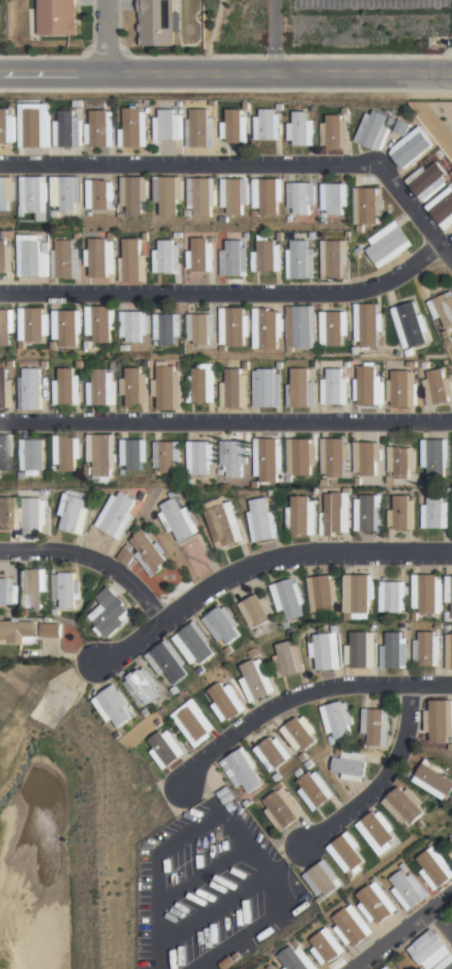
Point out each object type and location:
building: (56, 17)
building: (158, 22)
road: (215, 28)
road: (103, 36)
road: (275, 37)
road: (225, 73)
building: (147, 101)
building: (78, 102)
building: (213, 102)
building: (12, 104)
building: (111, 104)
building: (247, 105)
building: (280, 106)
building: (313, 109)
building: (345, 110)
building: (391, 119)
building: (33, 124)
building: (168, 124)
building: (269, 124)
building: (7, 126)
building: (235, 126)
building: (402, 126)
building: (100, 127)
building: (134, 127)
building: (200, 128)
building: (67, 129)
building: (302, 129)
building: (374, 130)
building: (335, 131)
building: (411, 146)
road: (188, 163)
building: (427, 179)
building: (5, 191)
building: (64, 192)
building: (133, 192)
building: (98, 193)
building: (167, 193)
building: (31, 194)
building: (234, 194)
building: (267, 194)
building: (201, 195)
building: (300, 196)
building: (334, 197)
building: (367, 205)
road: (414, 208)
building: (442, 208)
building: (254, 212)
building: (53, 213)
building: (187, 213)
building: (121, 215)
building: (323, 216)
building: (223, 218)
building: (289, 218)
building: (360, 228)
building: (180, 234)
building: (314, 234)
building: (146, 235)
building: (247, 235)
building: (281, 235)
building: (212, 238)
building: (450, 238)
building: (389, 244)
building: (46, 246)
building: (359, 249)
building: (5, 253)
building: (267, 254)
building: (202, 255)
building: (32, 257)
building: (100, 257)
building: (167, 257)
building: (234, 258)
building: (66, 259)
building: (301, 259)
building: (336, 259)
building: (133, 261)
road: (227, 293)
building: (442, 310)
building: (99, 322)
building: (32, 324)
building: (366, 324)
building: (133, 325)
building: (409, 325)
building: (7, 326)
building: (66, 326)
building: (234, 326)
building: (301, 326)
building: (166, 327)
building: (200, 327)
building: (266, 327)
building: (332, 327)
building: (443, 335)
building: (448, 342)
building: (155, 343)
building: (20, 345)
building: (52, 345)
building: (188, 346)
building: (92, 347)
building: (124, 348)
building: (222, 348)
building: (408, 352)
building: (11, 364)
building: (45, 364)
building: (113, 364)
building: (145, 364)
building: (280, 364)
building: (315, 364)
building: (348, 364)
building: (413, 364)
building: (78, 365)
building: (247, 365)
building: (425, 365)
building: (181, 366)
building: (202, 383)
building: (368, 386)
building: (67, 387)
building: (134, 387)
building: (167, 387)
building: (267, 387)
building: (335, 387)
building: (437, 387)
building: (101, 388)
building: (401, 388)
building: (235, 389)
building: (300, 389)
building: (32, 390)
building: (5, 391)
road: (226, 420)
building: (451, 448)
building: (6, 450)
building: (66, 452)
building: (133, 453)
building: (31, 456)
building: (167, 456)
building: (199, 456)
building: (233, 456)
building: (434, 456)
building: (100, 457)
building: (301, 457)
building: (333, 457)
building: (365, 457)
building: (267, 459)
building: (400, 461)
building: (52, 468)
building: (86, 470)
building: (121, 472)
building: (219, 472)
building: (22, 475)
building: (388, 475)
building: (288, 478)
building: (189, 481)
building: (356, 481)
building: (323, 482)
building: (423, 483)
building: (254, 484)
building: (449, 491)
building: (271, 493)
building: (46, 494)
building: (173, 494)
building: (144, 498)
building: (7, 512)
building: (74, 512)
building: (367, 513)
building: (402, 513)
building: (118, 514)
building: (434, 514)
building: (33, 515)
building: (334, 515)
building: (300, 517)
building: (178, 520)
building: (262, 521)
building: (222, 522)
building: (149, 553)
building: (127, 554)
road: (94, 560)
road: (260, 562)
building: (31, 588)
building: (65, 590)
building: (5, 593)
building: (321, 594)
building: (427, 594)
building: (357, 595)
building: (449, 596)
building: (392, 597)
building: (289, 598)
building: (256, 610)
building: (55, 612)
building: (20, 613)
building: (109, 614)
building: (346, 616)
building: (447, 616)
building: (313, 617)
building: (413, 617)
building: (381, 618)
building: (47, 619)
building: (222, 625)
building: (286, 625)
building: (373, 626)
building: (403, 626)
building: (437, 626)
building: (333, 629)
building: (447, 629)
building: (50, 630)
building: (16, 632)
building: (258, 633)
building: (291, 633)
building: (194, 643)
building: (427, 649)
building: (229, 650)
building: (360, 651)
building: (393, 651)
building: (449, 651)
building: (324, 652)
building: (253, 653)
building: (287, 659)
building: (168, 662)
building: (202, 671)
building: (255, 680)
building: (142, 687)
building: (174, 690)
road: (301, 697)
building: (225, 702)
building: (113, 707)
building: (147, 712)
building: (337, 720)
building: (438, 721)
building: (158, 722)
building: (192, 723)
building: (376, 727)
building: (299, 734)
building: (331, 741)
building: (450, 747)
building: (163, 749)
building: (338, 752)
building: (272, 754)
building: (303, 757)
building: (310, 765)
building: (350, 767)
building: (241, 769)
building: (299, 774)
road: (377, 779)
building: (433, 780)
building: (281, 786)
building: (223, 791)
building: (315, 791)
building: (227, 797)
building: (246, 804)
building: (229, 806)
building: (403, 806)
building: (282, 811)
building: (420, 825)
building: (377, 833)
building: (450, 844)
building: (430, 845)
building: (346, 854)
building: (450, 854)
building: (404, 868)
building: (434, 871)
building: (350, 875)
building: (321, 880)
building: (407, 891)
building: (320, 898)
building: (376, 904)
road: (442, 922)
building: (351, 927)
road: (403, 931)
building: (426, 946)
building: (325, 948)
building: (294, 959)
building: (225, 963)
building: (444, 963)
building: (385, 966)

